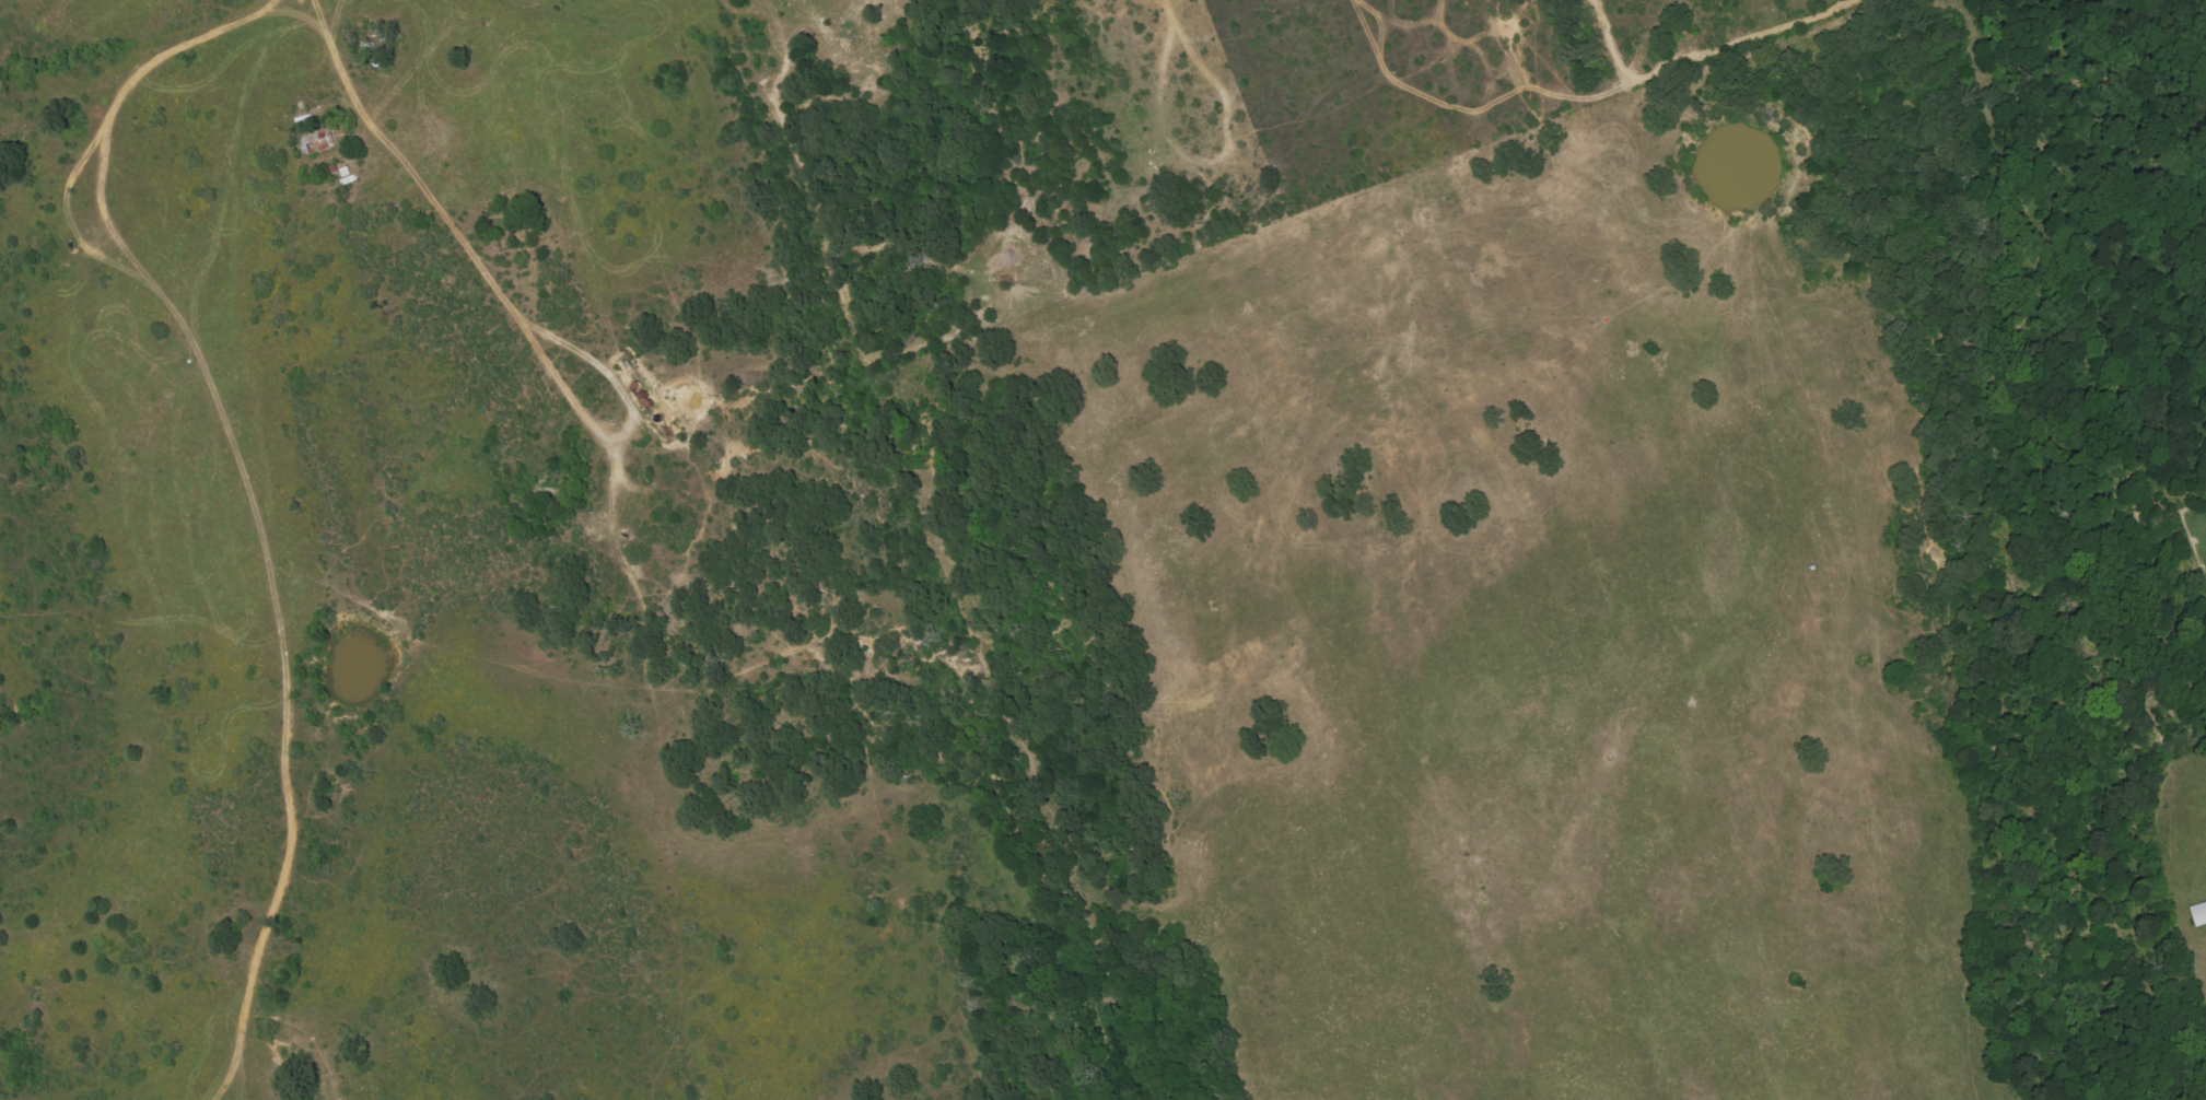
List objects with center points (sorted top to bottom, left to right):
road: (301, 112)

